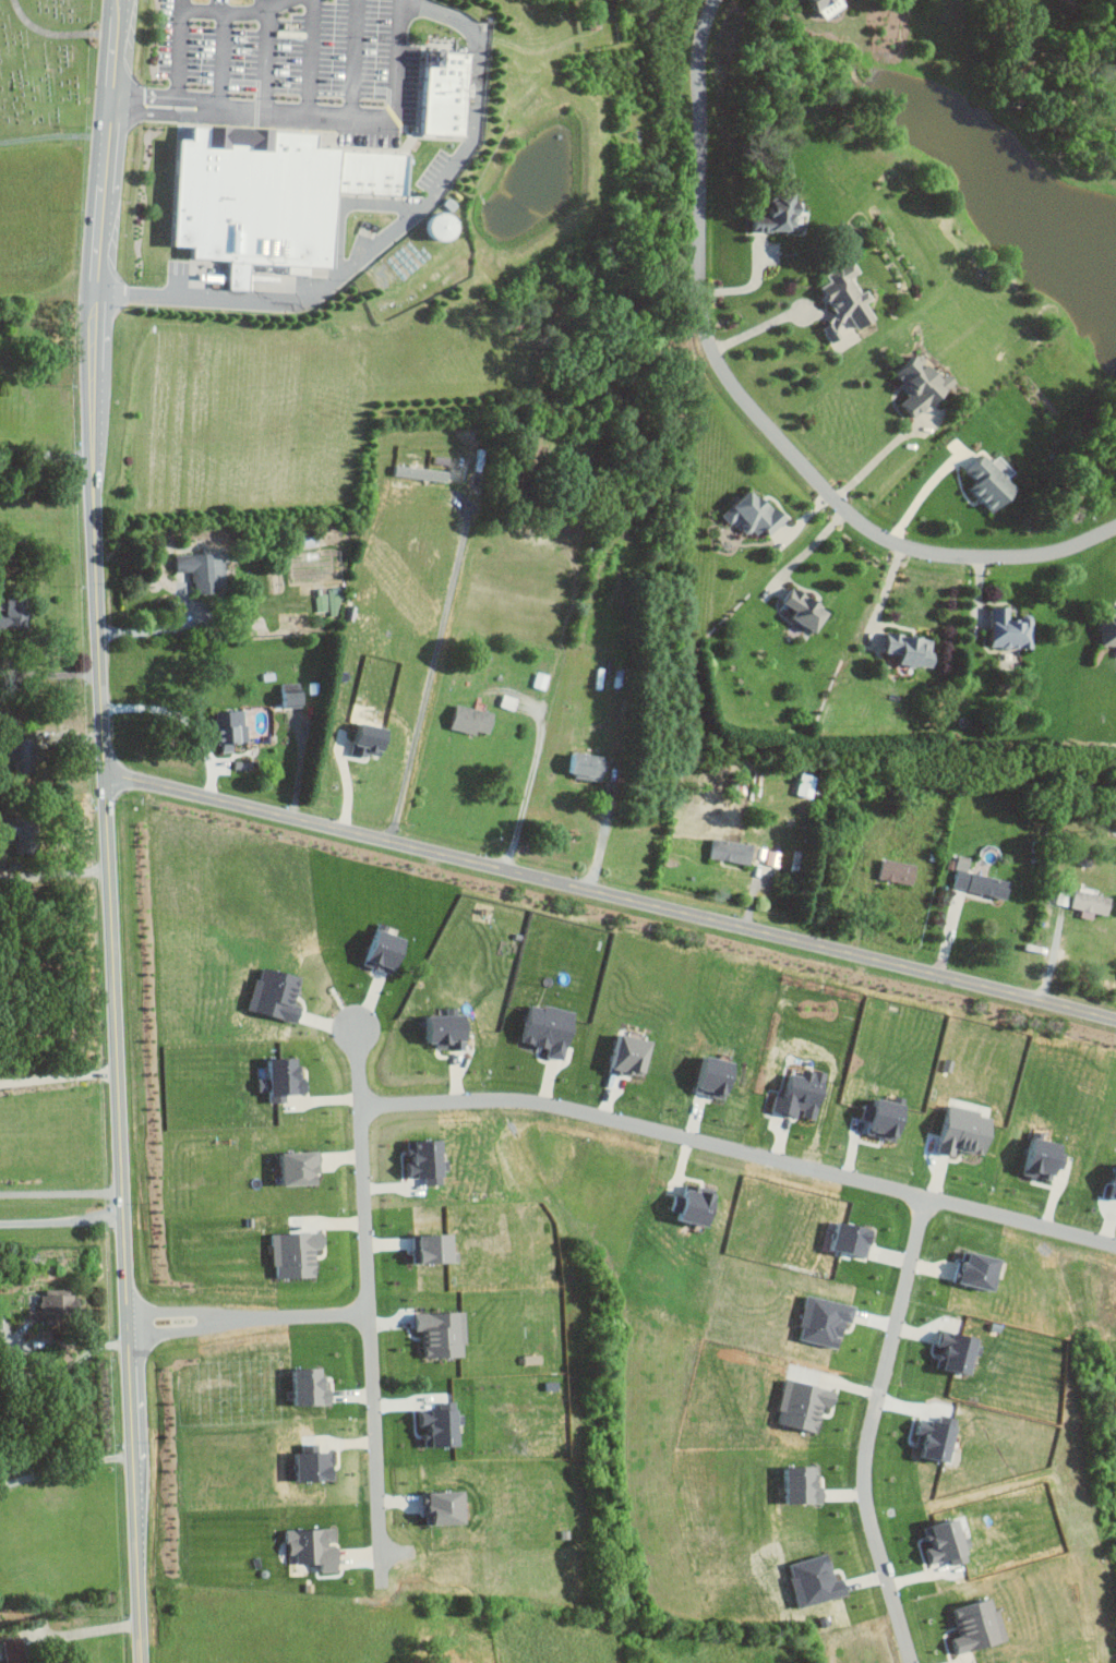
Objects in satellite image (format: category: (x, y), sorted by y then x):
building: (816, 7)
road: (181, 27)
road: (225, 33)
road: (309, 58)
road: (266, 59)
road: (352, 60)
building: (1115, 62)
building: (446, 92)
road: (168, 94)
road: (166, 115)
road: (367, 121)
building: (276, 195)
building: (770, 214)
road: (100, 227)
building: (442, 227)
road: (388, 231)
building: (838, 300)
road: (766, 323)
building: (909, 383)
road: (755, 407)
road: (46, 454)
road: (880, 456)
building: (982, 480)
road: (921, 493)
building: (745, 514)
road: (806, 551)
building: (206, 570)
road: (884, 594)
building: (795, 610)
building: (19, 613)
road: (154, 629)
building: (1001, 629)
building: (1105, 630)
building: (900, 649)
road: (50, 673)
road: (427, 684)
road: (549, 691)
building: (285, 696)
building: (467, 719)
road: (187, 721)
building: (226, 724)
building: (362, 738)
building: (12, 749)
building: (580, 764)
road: (300, 769)
building: (802, 784)
building: (4, 828)
road: (603, 833)
building: (724, 849)
building: (891, 870)
road: (53, 872)
building: (972, 880)
road: (611, 897)
building: (1078, 900)
building: (371, 948)
building: (264, 995)
building: (538, 1028)
building: (436, 1029)
building: (622, 1055)
road: (117, 1059)
building: (704, 1075)
road: (59, 1078)
building: (273, 1078)
building: (792, 1095)
building: (875, 1117)
road: (703, 1145)
building: (1033, 1157)
building: (291, 1166)
building: (1107, 1184)
road: (61, 1193)
building: (685, 1206)
road: (62, 1220)
building: (52, 1304)
road: (231, 1316)
road: (300, 1316)
building: (439, 1331)
road: (370, 1341)
road: (19, 1351)
road: (868, 1432)
building: (304, 1461)
road: (65, 1467)
building: (441, 1505)
building: (308, 1545)
road: (88, 1632)

